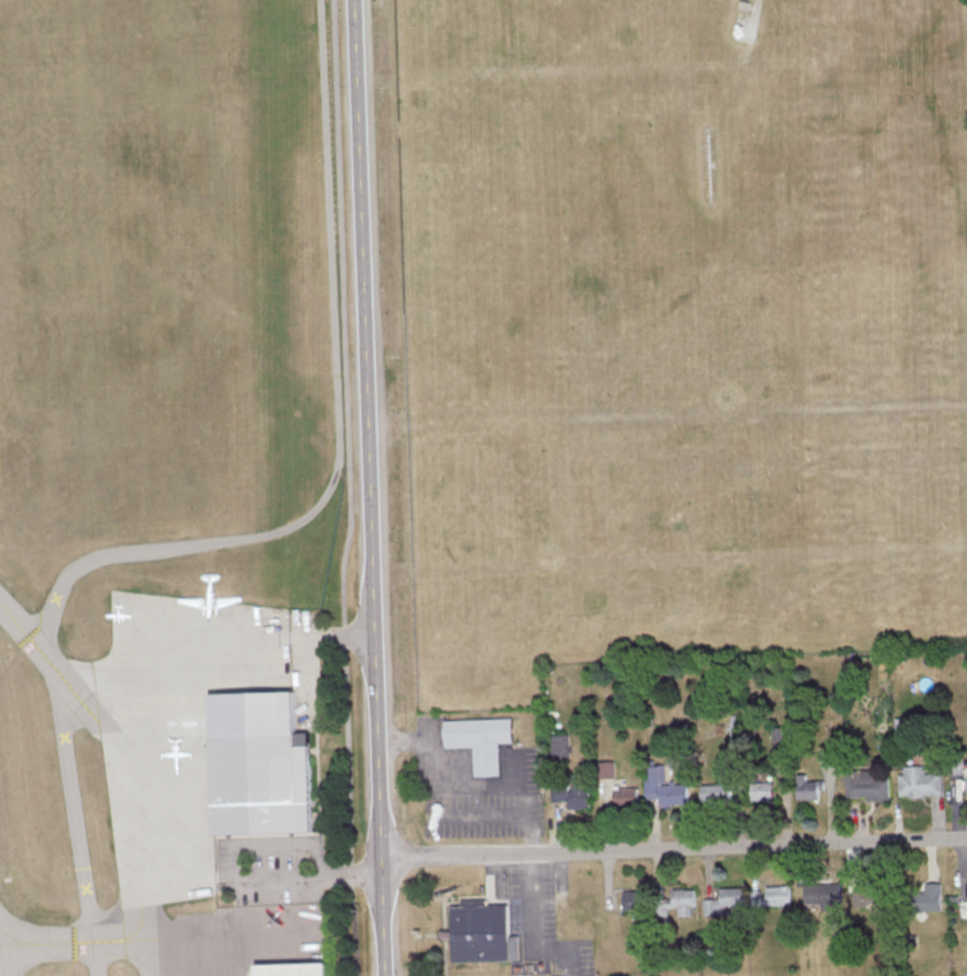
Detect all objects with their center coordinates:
airport: (164, 485)
road: (375, 487)
road: (349, 488)
road: (243, 537)
airport taxiway: (50, 663)
airport apron: (174, 729)
building: (779, 735)
building: (480, 740)
building: (560, 745)
building: (825, 758)
building: (729, 759)
building: (259, 764)
building: (605, 768)
building: (919, 782)
building: (866, 785)
building: (663, 787)
building: (807, 788)
building: (762, 791)
building: (573, 793)
building: (716, 794)
building: (625, 796)
road: (441, 814)
road: (677, 847)
road: (242, 878)
building: (866, 892)
building: (822, 893)
building: (772, 895)
building: (927, 897)
building: (633, 899)
building: (724, 900)
building: (678, 903)
airport taxiway: (138, 925)
building: (482, 932)
airport taxiway: (139, 938)
airport apron: (238, 938)
airport taxiway: (61, 941)
building: (291, 969)

